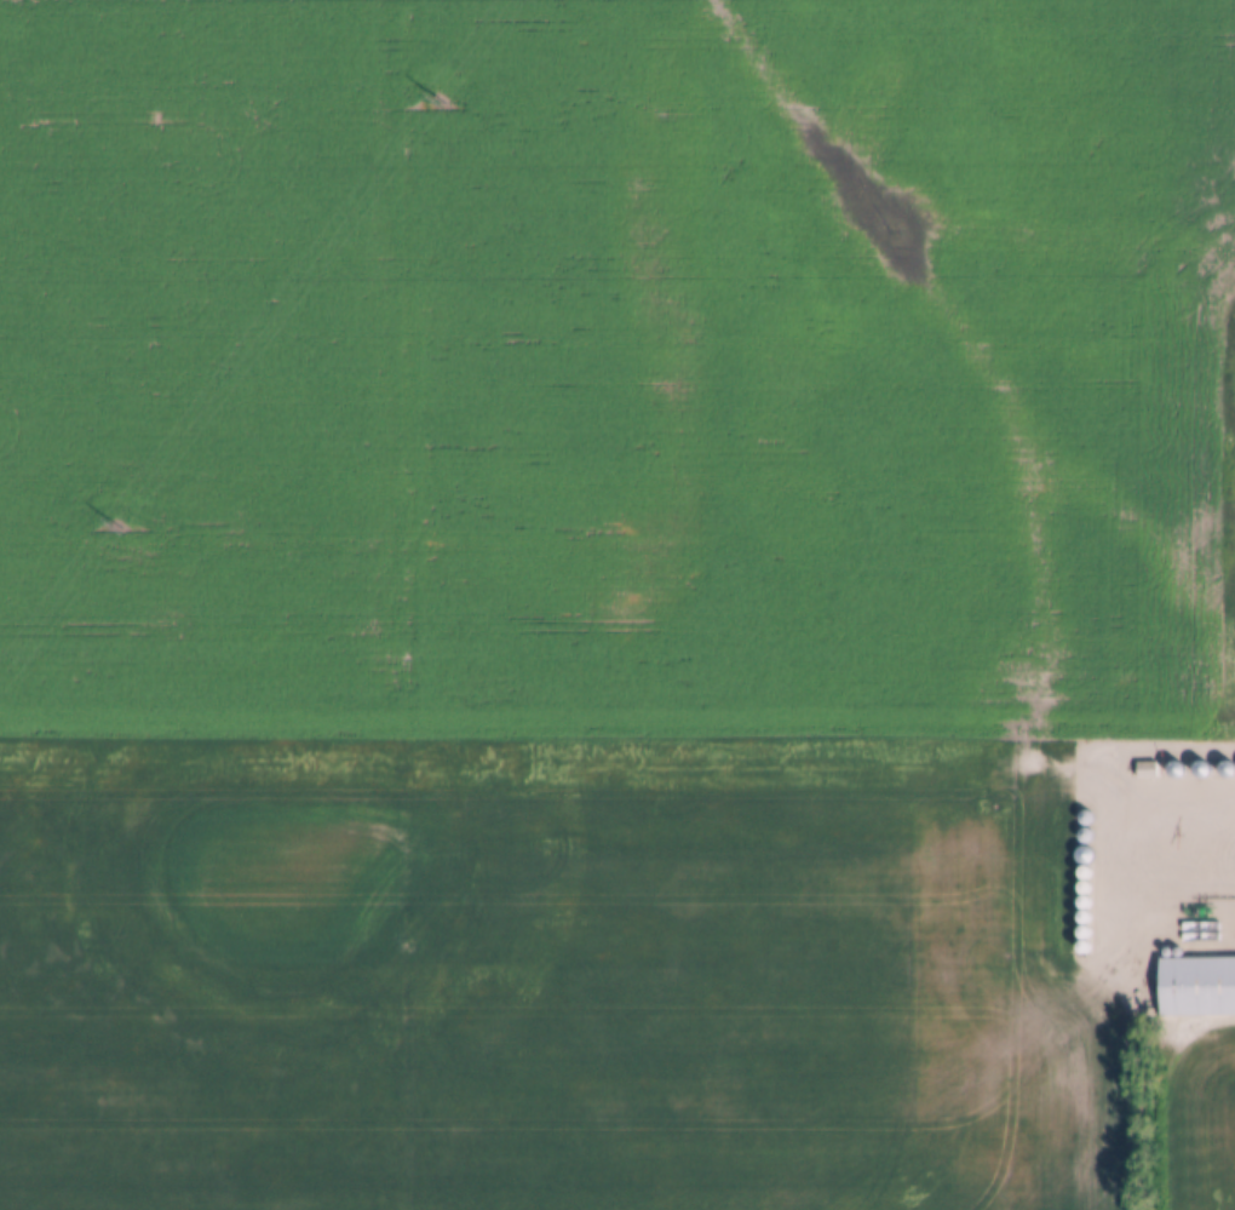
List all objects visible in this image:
building: (1176, 769)
silo: (1176, 769)
building: (1201, 769)
silo: (1201, 769)
building: (1228, 769)
silo: (1228, 769)
building: (1147, 770)
building: (1086, 818)
silo: (1086, 818)
building: (1086, 835)
silo: (1086, 835)
building: (1084, 854)
silo: (1084, 854)
building: (1085, 872)
silo: (1085, 872)
building: (1084, 887)
silo: (1084, 887)
building: (1084, 902)
silo: (1084, 902)
building: (1084, 917)
silo: (1084, 917)
building: (1084, 931)
silo: (1084, 931)
building: (1084, 946)
silo: (1084, 946)
building: (1197, 986)

